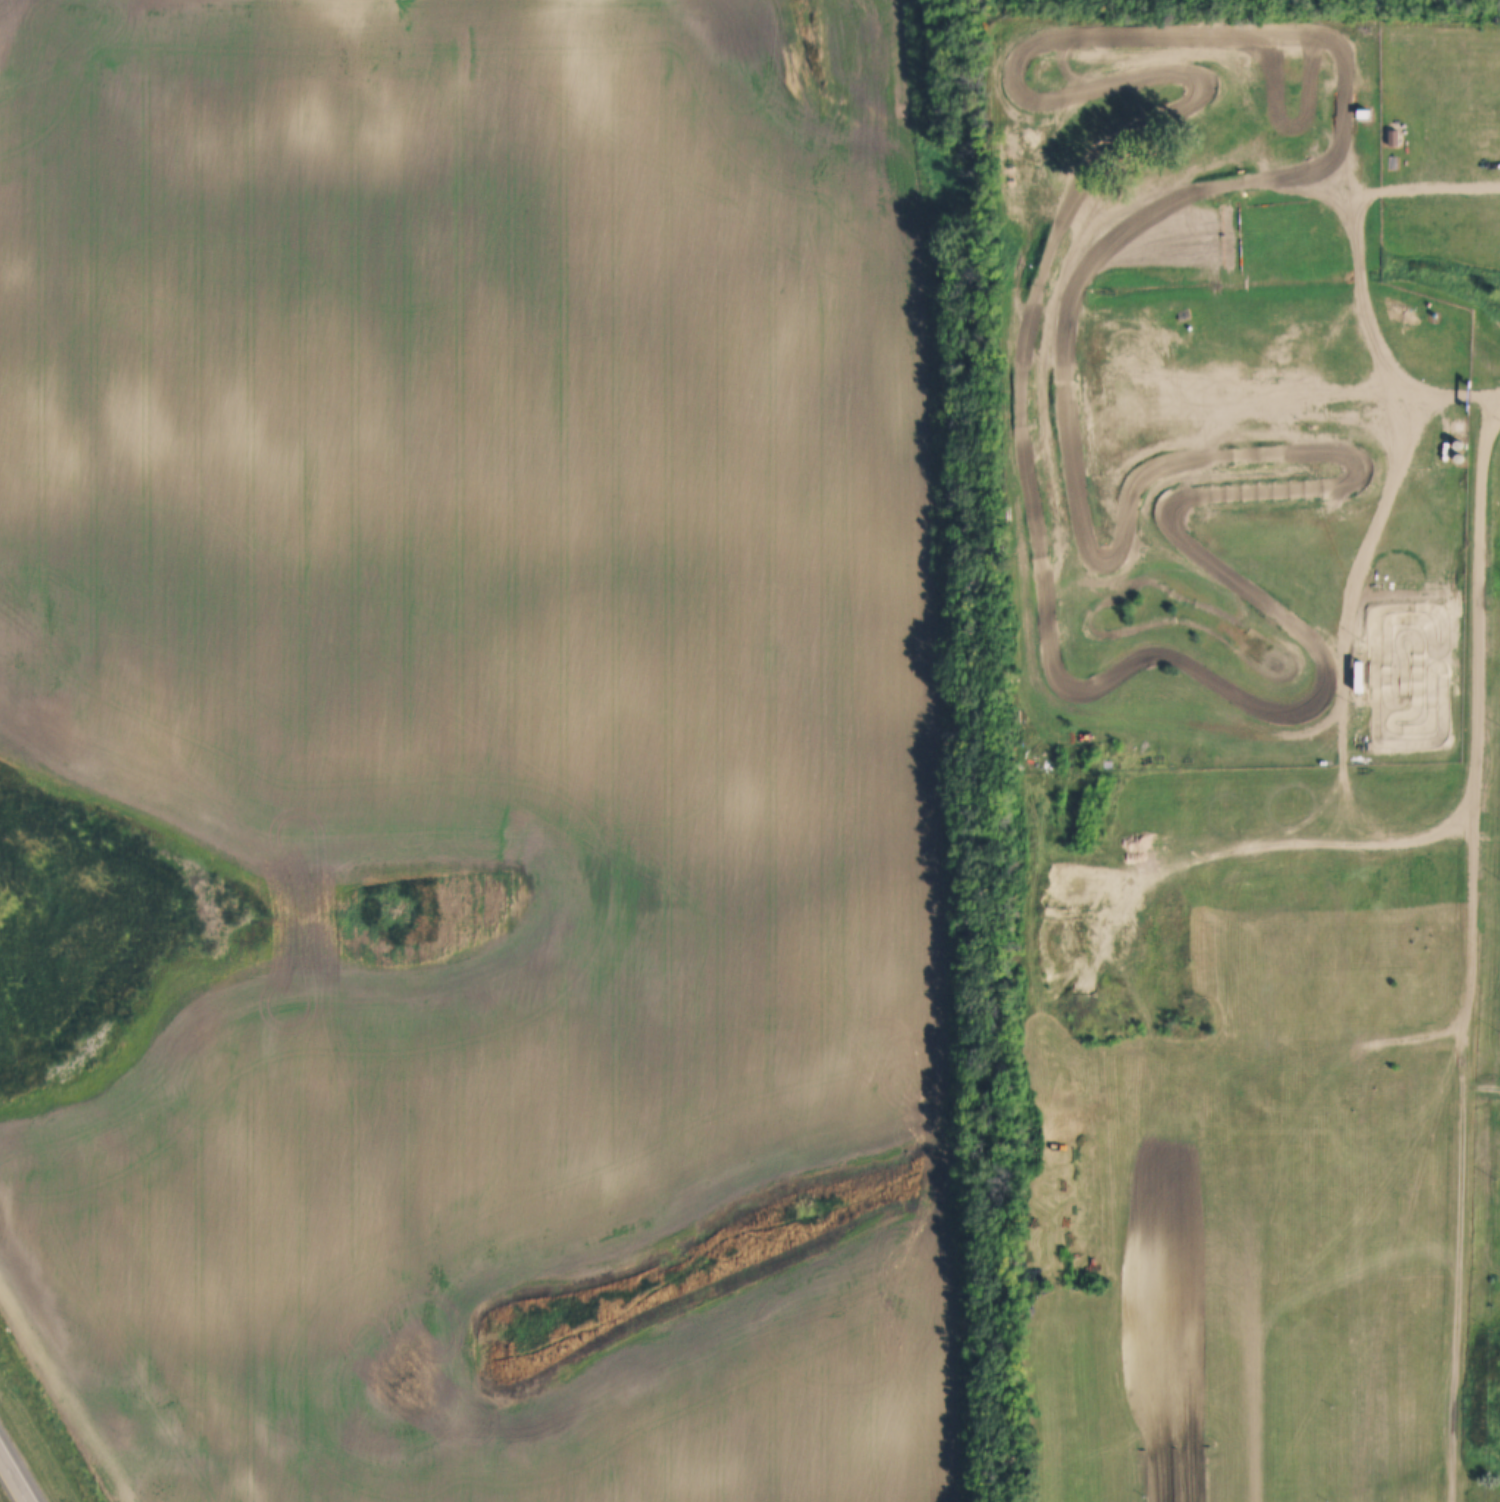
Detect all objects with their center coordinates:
raceway: (1007, 72)
building: (1212, 156)
road: (1330, 341)
road: (1455, 397)
road: (1478, 744)
road: (1483, 1083)
road: (1461, 1292)
road: (14, 1478)

